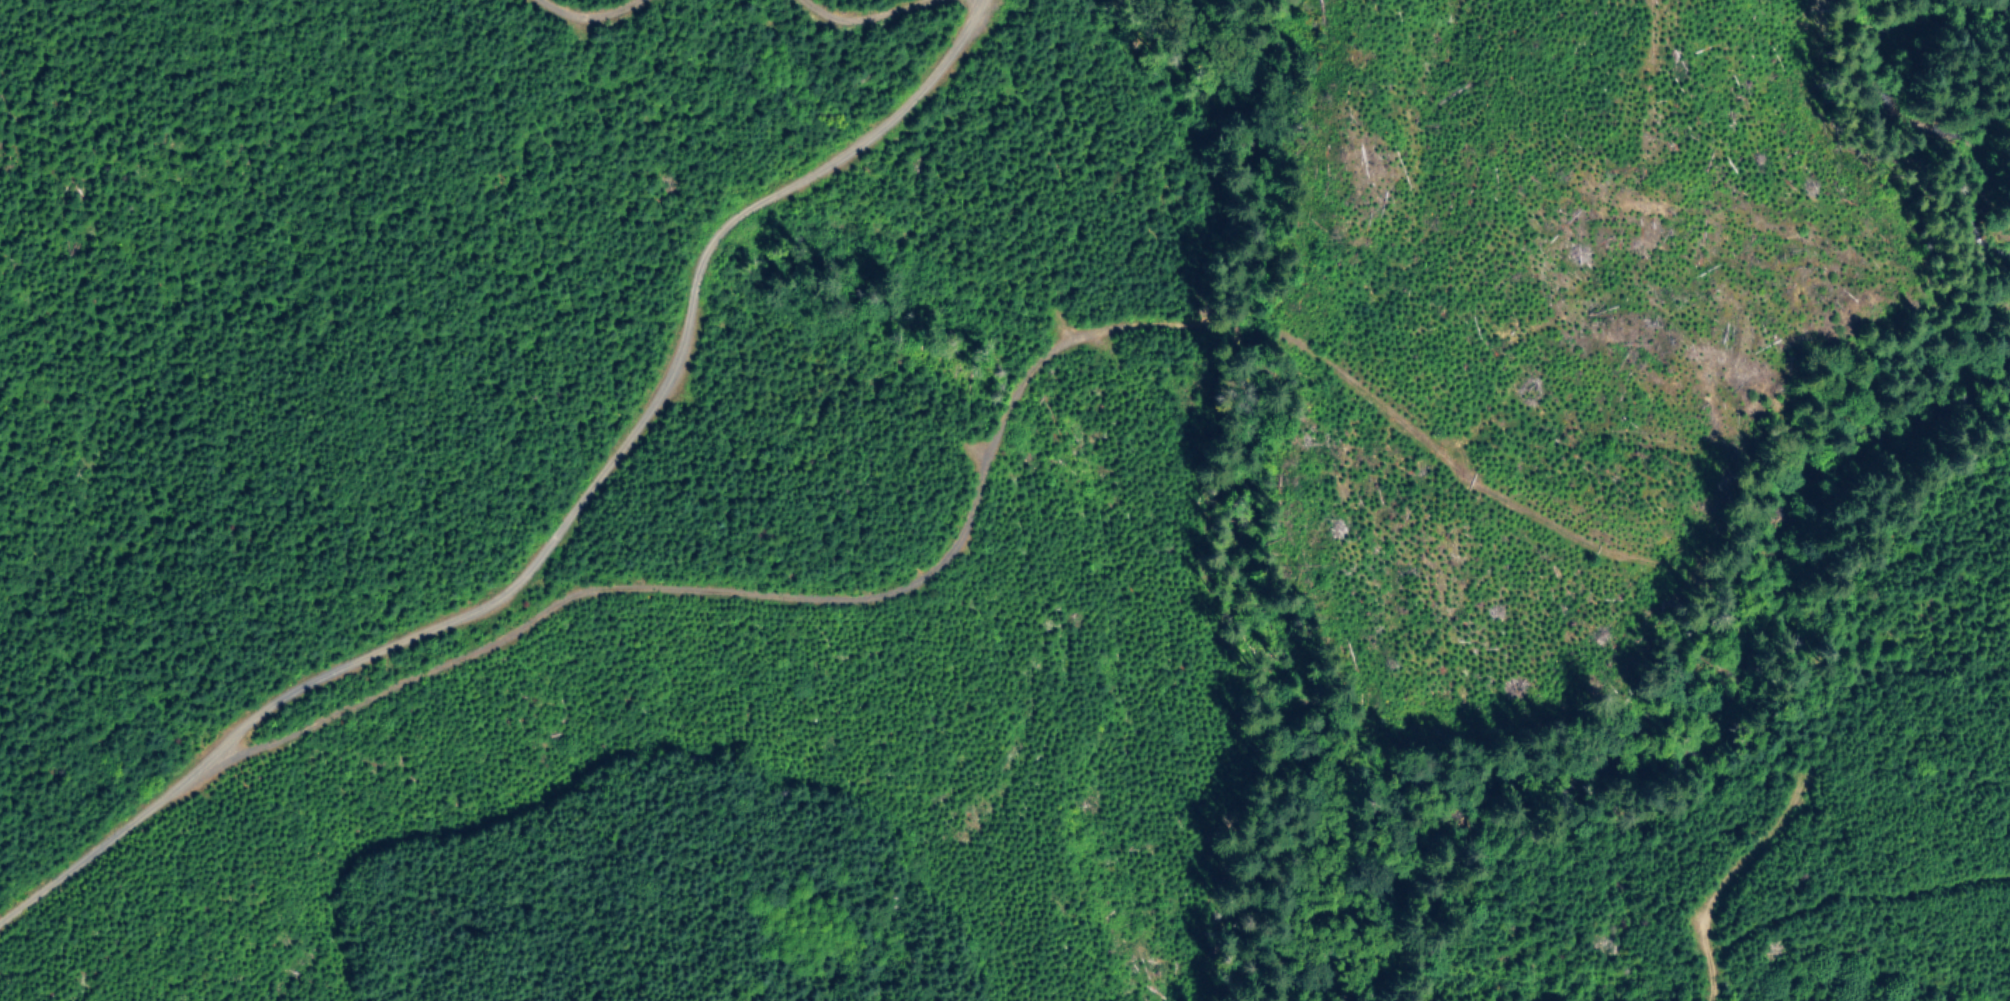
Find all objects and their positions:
road: (597, 8)
road: (881, 14)
road: (567, 483)

